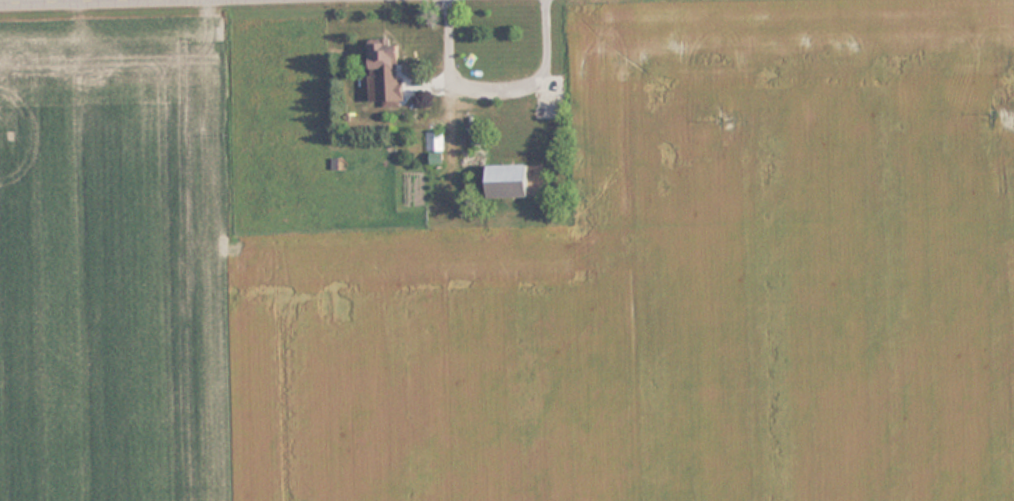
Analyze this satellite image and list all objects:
building: (389, 69)
building: (436, 140)
building: (513, 182)

